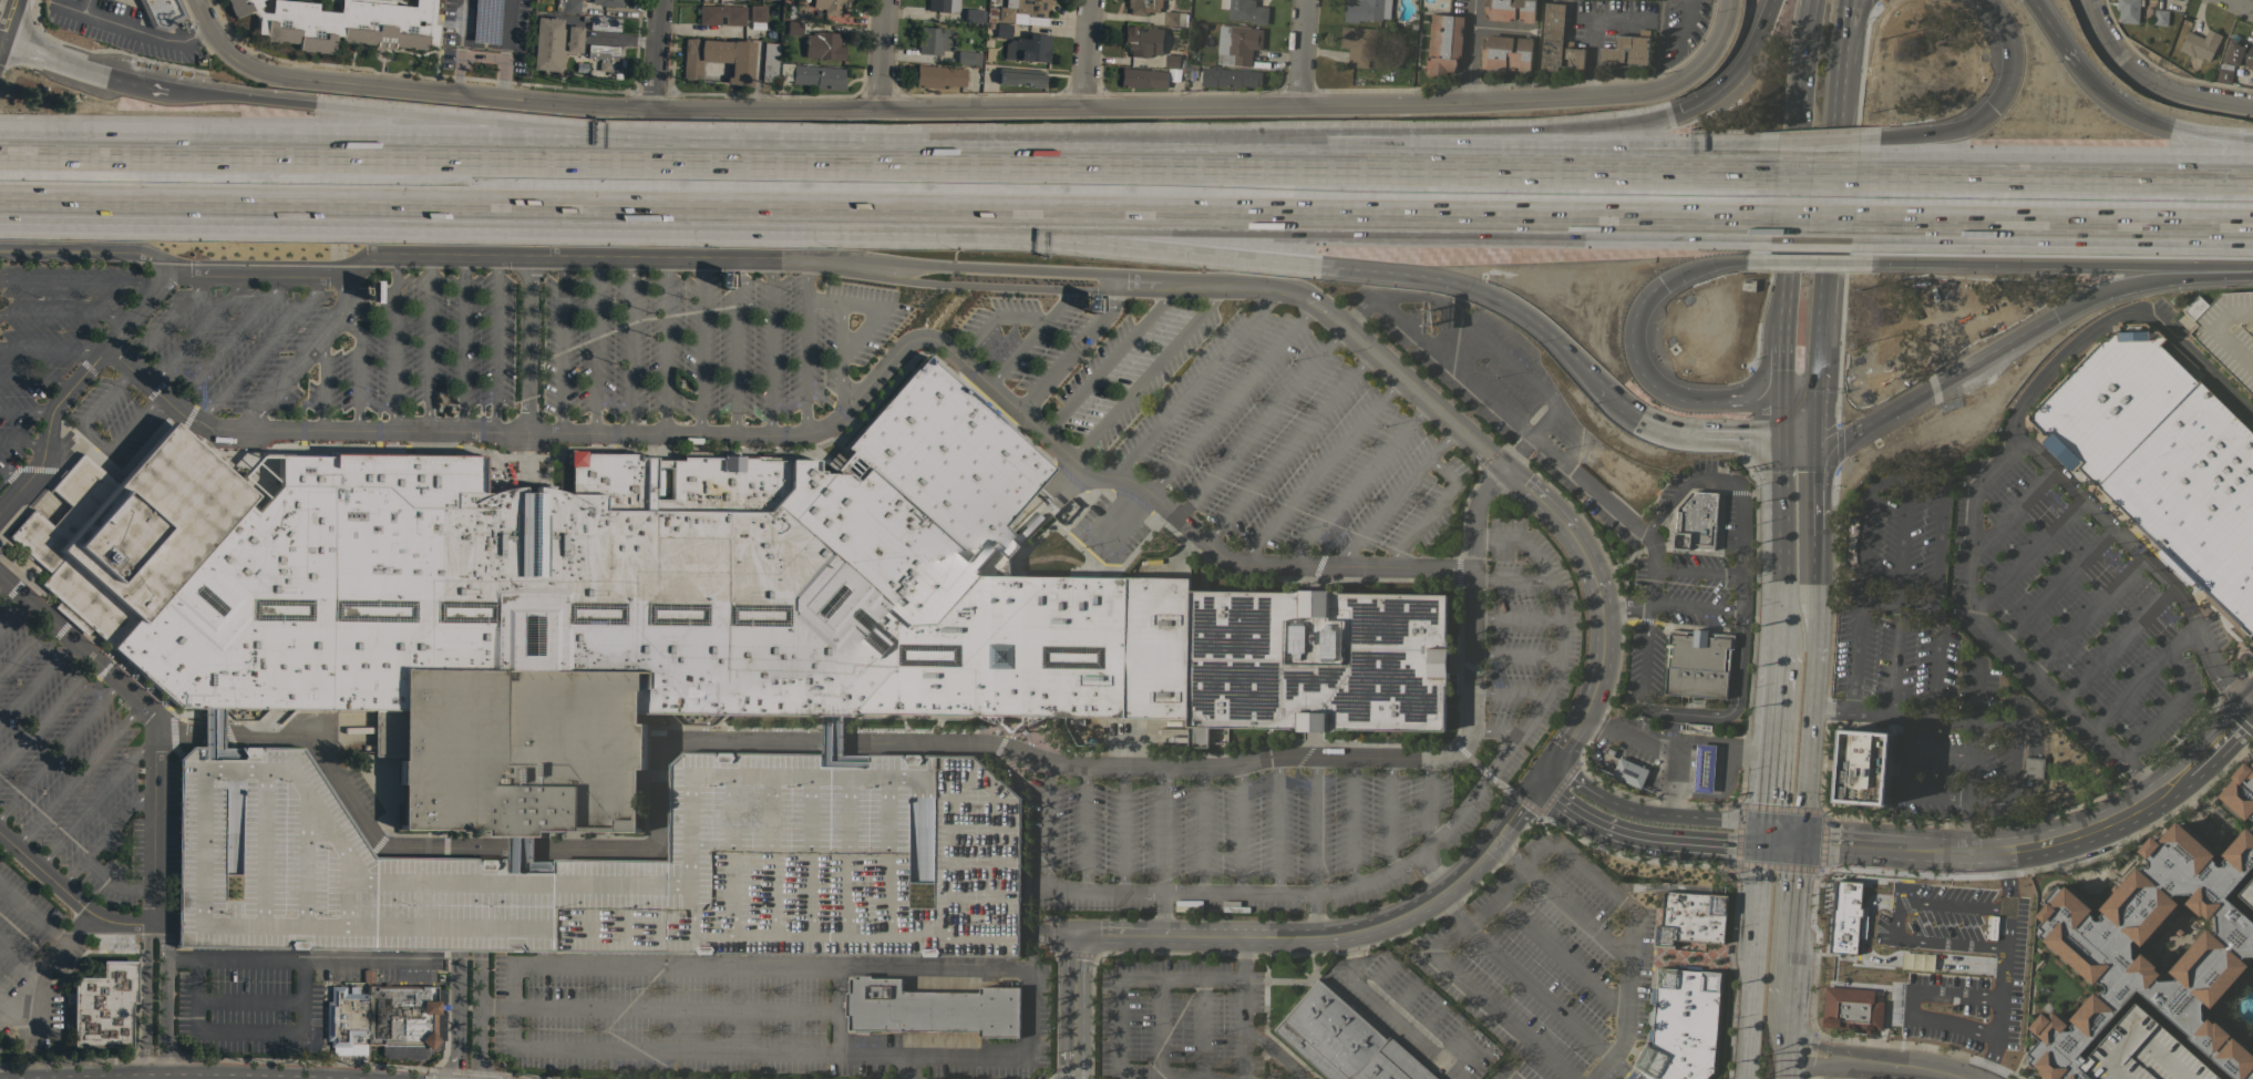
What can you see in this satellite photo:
building: (713, 0)
building: (606, 2)
road: (2239, 4)
building: (567, 6)
building: (942, 6)
building: (1143, 6)
building: (833, 7)
building: (1031, 7)
building: (1367, 10)
building: (1509, 10)
building: (2128, 10)
building: (1247, 11)
building: (161, 12)
building: (799, 12)
building: (757, 13)
building: (1004, 13)
building: (721, 14)
building: (973, 16)
building: (2160, 17)
building: (1174, 18)
road: (2038, 18)
road: (1607, 20)
road: (8, 22)
building: (343, 23)
building: (604, 23)
road: (1865, 24)
road: (464, 27)
building: (793, 27)
road: (1505, 29)
building: (1002, 30)
road: (140, 31)
road: (697, 31)
building: (482, 37)
building: (1552, 37)
building: (572, 39)
building: (933, 40)
road: (1806, 40)
building: (1142, 41)
road: (2101, 41)
building: (546, 43)
building: (1243, 43)
building: (1443, 43)
road: (2014, 43)
building: (1358, 44)
building: (2200, 44)
road: (0, 45)
building: (822, 45)
road: (1660, 45)
building: (1027, 48)
building: (1628, 48)
road: (508, 49)
road: (1300, 51)
road: (1473, 51)
road: (1090, 53)
building: (1505, 53)
building: (2239, 53)
building: (601, 54)
road: (652, 54)
road: (878, 54)
road: (485, 55)
building: (1574, 56)
building: (718, 58)
building: (967, 58)
road: (1594, 59)
building: (769, 62)
road: (80, 70)
road: (461, 74)
building: (1151, 74)
building: (811, 75)
building: (2223, 75)
building: (937, 76)
building: (1019, 76)
building: (1230, 78)
road: (2089, 81)
road: (2190, 96)
road: (199, 99)
road: (1839, 99)
road: (970, 107)
traffic signals: (1994, 114)
traffic signals: (1679, 115)
road: (512, 133)
road: (2193, 134)
road: (1942, 136)
road: (1797, 138)
road: (1470, 144)
road: (1818, 145)
road: (391, 160)
road: (1664, 161)
road: (945, 162)
road: (1327, 168)
road: (1663, 173)
road: (1815, 174)
road: (2054, 175)
railway: (1126, 192)
road: (385, 205)
road: (1272, 217)
road: (1812, 224)
road: (2053, 226)
road: (1036, 242)
road: (1810, 256)
road: (2051, 257)
road: (635, 258)
road: (1822, 268)
road: (80, 281)
road: (2150, 281)
traffic signals: (1662, 284)
road: (1478, 289)
road: (873, 304)
road: (179, 306)
road: (1358, 308)
traffic signals: (2055, 317)
road: (65, 318)
road: (990, 318)
road: (199, 327)
building: (2226, 331)
parking garage: (2226, 331)
road: (1031, 336)
road: (233, 337)
road: (393, 345)
road: (426, 345)
road: (461, 345)
road: (264, 346)
road: (494, 346)
road: (525, 347)
road: (559, 347)
road: (593, 347)
road: (630, 347)
road: (53, 348)
road: (663, 348)
road: (700, 348)
road: (803, 348)
road: (733, 349)
road: (768, 349)
road: (1071, 352)
road: (304, 354)
road: (840, 357)
road: (1108, 361)
road: (1443, 362)
road: (357, 372)
road: (1144, 373)
road: (1822, 376)
road: (1938, 380)
road: (38, 381)
road: (1644, 381)
road: (75, 382)
road: (1193, 382)
road: (322, 388)
road: (1230, 399)
road: (83, 410)
road: (25, 412)
traffic signals: (1823, 412)
road: (829, 422)
road: (1257, 422)
road: (1780, 422)
road: (1801, 424)
road: (1822, 428)
road: (1693, 432)
traffic signals: (1780, 436)
road: (117, 440)
road: (23, 442)
road: (1287, 448)
building: (2161, 461)
road: (1500, 469)
road: (1318, 471)
road: (12, 472)
road: (1894, 479)
road: (1986, 479)
road: (1357, 484)
road: (1686, 485)
road: (1395, 496)
road: (1, 505)
road: (2014, 512)
road: (1432, 513)
road: (1820, 518)
building: (1696, 521)
building: (130, 531)
road: (2028, 555)
road: (2144, 558)
road: (1696, 572)
road: (1511, 580)
parking lot: (1518, 580)
road: (2057, 583)
road: (2, 584)
building: (675, 584)
road: (1940, 584)
road: (1554, 590)
road: (1473, 594)
road: (1899, 600)
road: (1691, 607)
rooftop solar panel: (1423, 609)
road: (1737, 609)
road: (12, 614)
road: (2088, 615)
road: (1515, 618)
rooftop solar panel: (1379, 619)
rooftop solar panel: (1228, 627)
road: (2181, 640)
road: (2117, 643)
road: (75, 646)
road: (24, 649)
road: (1515, 657)
road: (1644, 659)
building: (1316, 660)
building: (1697, 664)
road: (2177, 667)
rooftop solar panel: (1381, 678)
rooftop solar panel: (1314, 679)
road: (35, 682)
rooftop solar panel: (1236, 690)
road: (1975, 691)
road: (1508, 695)
rooftop solar panel: (1421, 703)
road: (1533, 711)
road: (2015, 712)
road: (1686, 715)
road: (47, 717)
road: (1813, 718)
road: (1959, 720)
road: (2020, 723)
building: (1697, 727)
road: (1495, 728)
road: (205, 740)
road: (832, 742)
road: (2218, 742)
road: (1659, 743)
road: (1774, 743)
road: (1563, 744)
road: (58, 748)
road: (827, 748)
building: (516, 750)
road: (1505, 751)
road: (2013, 758)
road: (1472, 761)
road: (1242, 762)
building: (1862, 767)
road: (2031, 767)
parking lot: (84, 768)
building: (1704, 768)
building: (2033, 768)
building: (1629, 772)
road: (1902, 772)
road: (75, 774)
building: (2244, 774)
road: (2168, 784)
road: (1533, 788)
road: (1505, 790)
road: (2026, 791)
road: (1989, 795)
road: (1429, 799)
building: (2221, 800)
road: (92, 801)
road: (1388, 814)
road: (1653, 816)
road: (1351, 822)
road: (1508, 823)
road: (229, 824)
road: (1047, 824)
road: (1313, 824)
road: (1277, 825)
road: (1084, 828)
road: (1122, 829)
road: (1161, 830)
road: (1237, 830)
road: (1200, 831)
road: (2069, 835)
road: (104, 837)
traffic signals: (1769, 837)
road: (1644, 839)
road: (1786, 839)
traffic signals: (1802, 841)
road: (1840, 844)
road: (430, 847)
road: (1889, 849)
building: (2225, 851)
road: (422, 852)
road: (562, 853)
road: (1933, 853)
road: (617, 854)
road: (644, 854)
road: (1973, 854)
road: (1416, 855)
road: (1510, 855)
road: (521, 861)
building: (618, 864)
parking lot: (618, 864)
road: (1432, 874)
road: (1595, 875)
road: (998, 882)
road: (110, 884)
road: (64, 893)
building: (2187, 893)
road: (143, 894)
road: (1170, 894)
road: (227, 898)
road: (1492, 905)
road: (1952, 905)
road: (1455, 911)
road: (1577, 914)
road: (1160, 916)
road: (1317, 916)
building: (1843, 917)
building: (1690, 918)
road: (1796, 922)
road: (154, 925)
road: (169, 926)
road: (49, 928)
road: (79, 929)
road: (552, 931)
road: (964, 935)
road: (1047, 936)
road: (1228, 938)
road: (1930, 941)
road: (302, 945)
road: (514, 946)
road: (413, 957)
road: (574, 957)
road: (1243, 957)
road: (1757, 957)
road: (18, 958)
road: (1562, 958)
road: (726, 959)
road: (1891, 959)
road: (299, 962)
road: (2003, 966)
building: (2191, 970)
road: (1130, 976)
road: (1537, 994)
road: (1396, 995)
road: (164, 998)
road: (301, 998)
road: (1909, 1003)
road: (454, 1004)
road: (481, 1004)
road: (1627, 1004)
building: (102, 1006)
road: (496, 1008)
building: (930, 1008)
building: (1851, 1009)
road: (697, 1010)
road: (191, 1011)
building: (400, 1015)
building: (2075, 1016)
building: (346, 1017)
road: (1500, 1019)
road: (34, 1021)
building: (1680, 1025)
road: (1159, 1027)
road: (1201, 1028)
road: (1241, 1028)
building: (1344, 1040)
road: (1787, 1040)
building: (2137, 1050)
road: (607, 1054)
road: (1875, 1063)
building: (2081, 1068)
road: (908, 1069)
road: (178, 1072)
road: (80, 1076)
road: (141, 1076)
building: (2101, 1076)
road: (1142, 1077)
building: (2055, 1078)
building: (2107, 1078)

